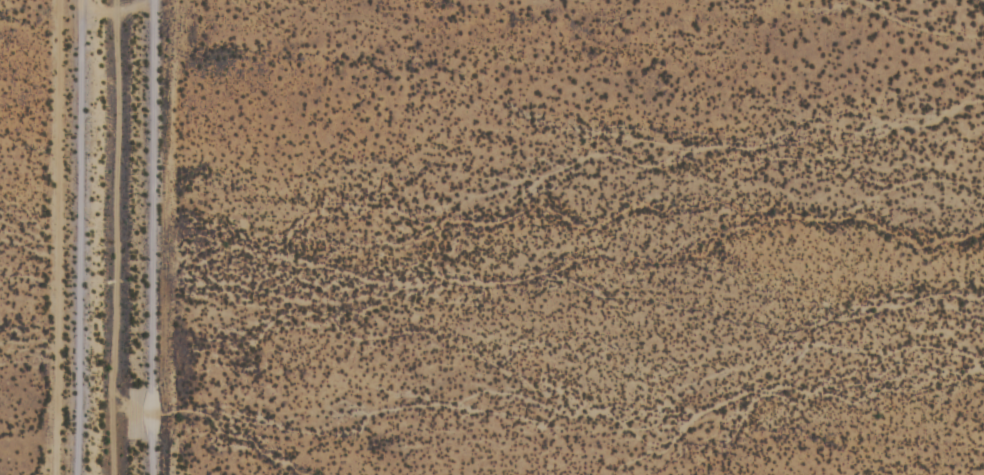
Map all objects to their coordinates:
dam: (80, 237)
dam: (154, 237)

